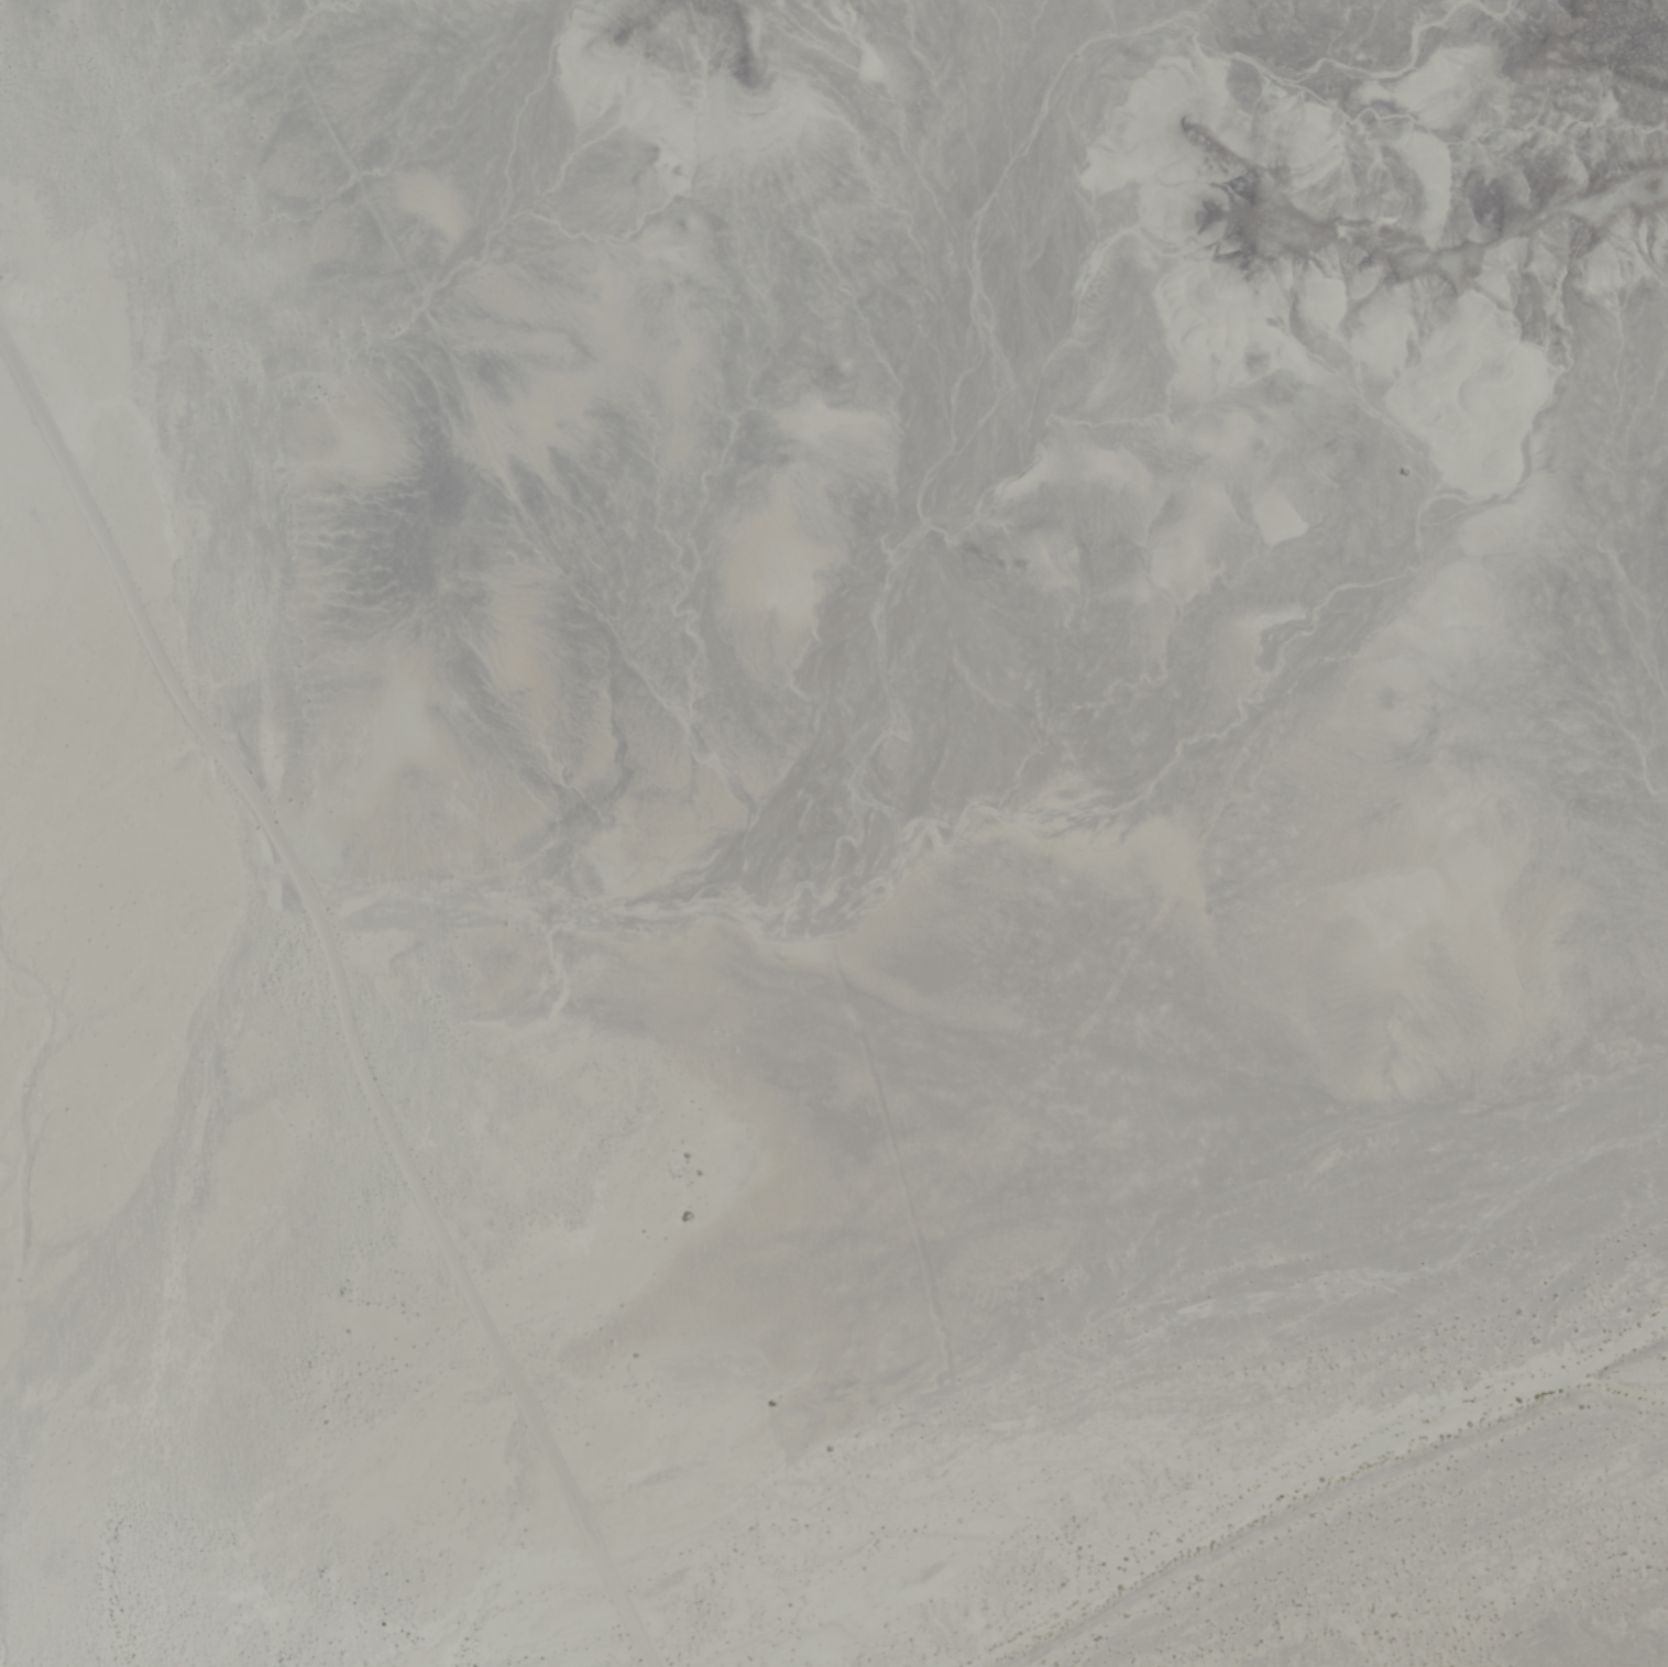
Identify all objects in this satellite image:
road: (345, 975)

